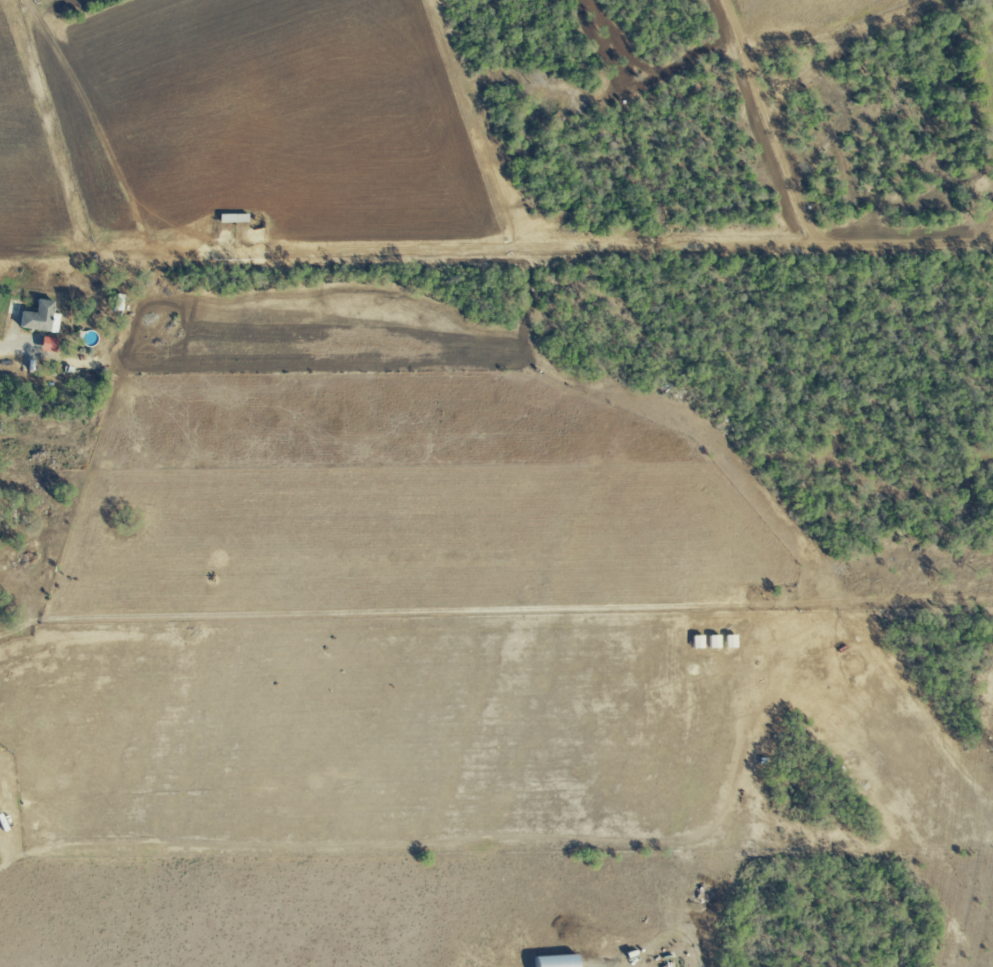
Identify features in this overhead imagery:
building: (40, 318)
road: (12, 347)
building: (697, 642)
power tower: (992, 746)
building: (555, 961)
building: (665, 961)

